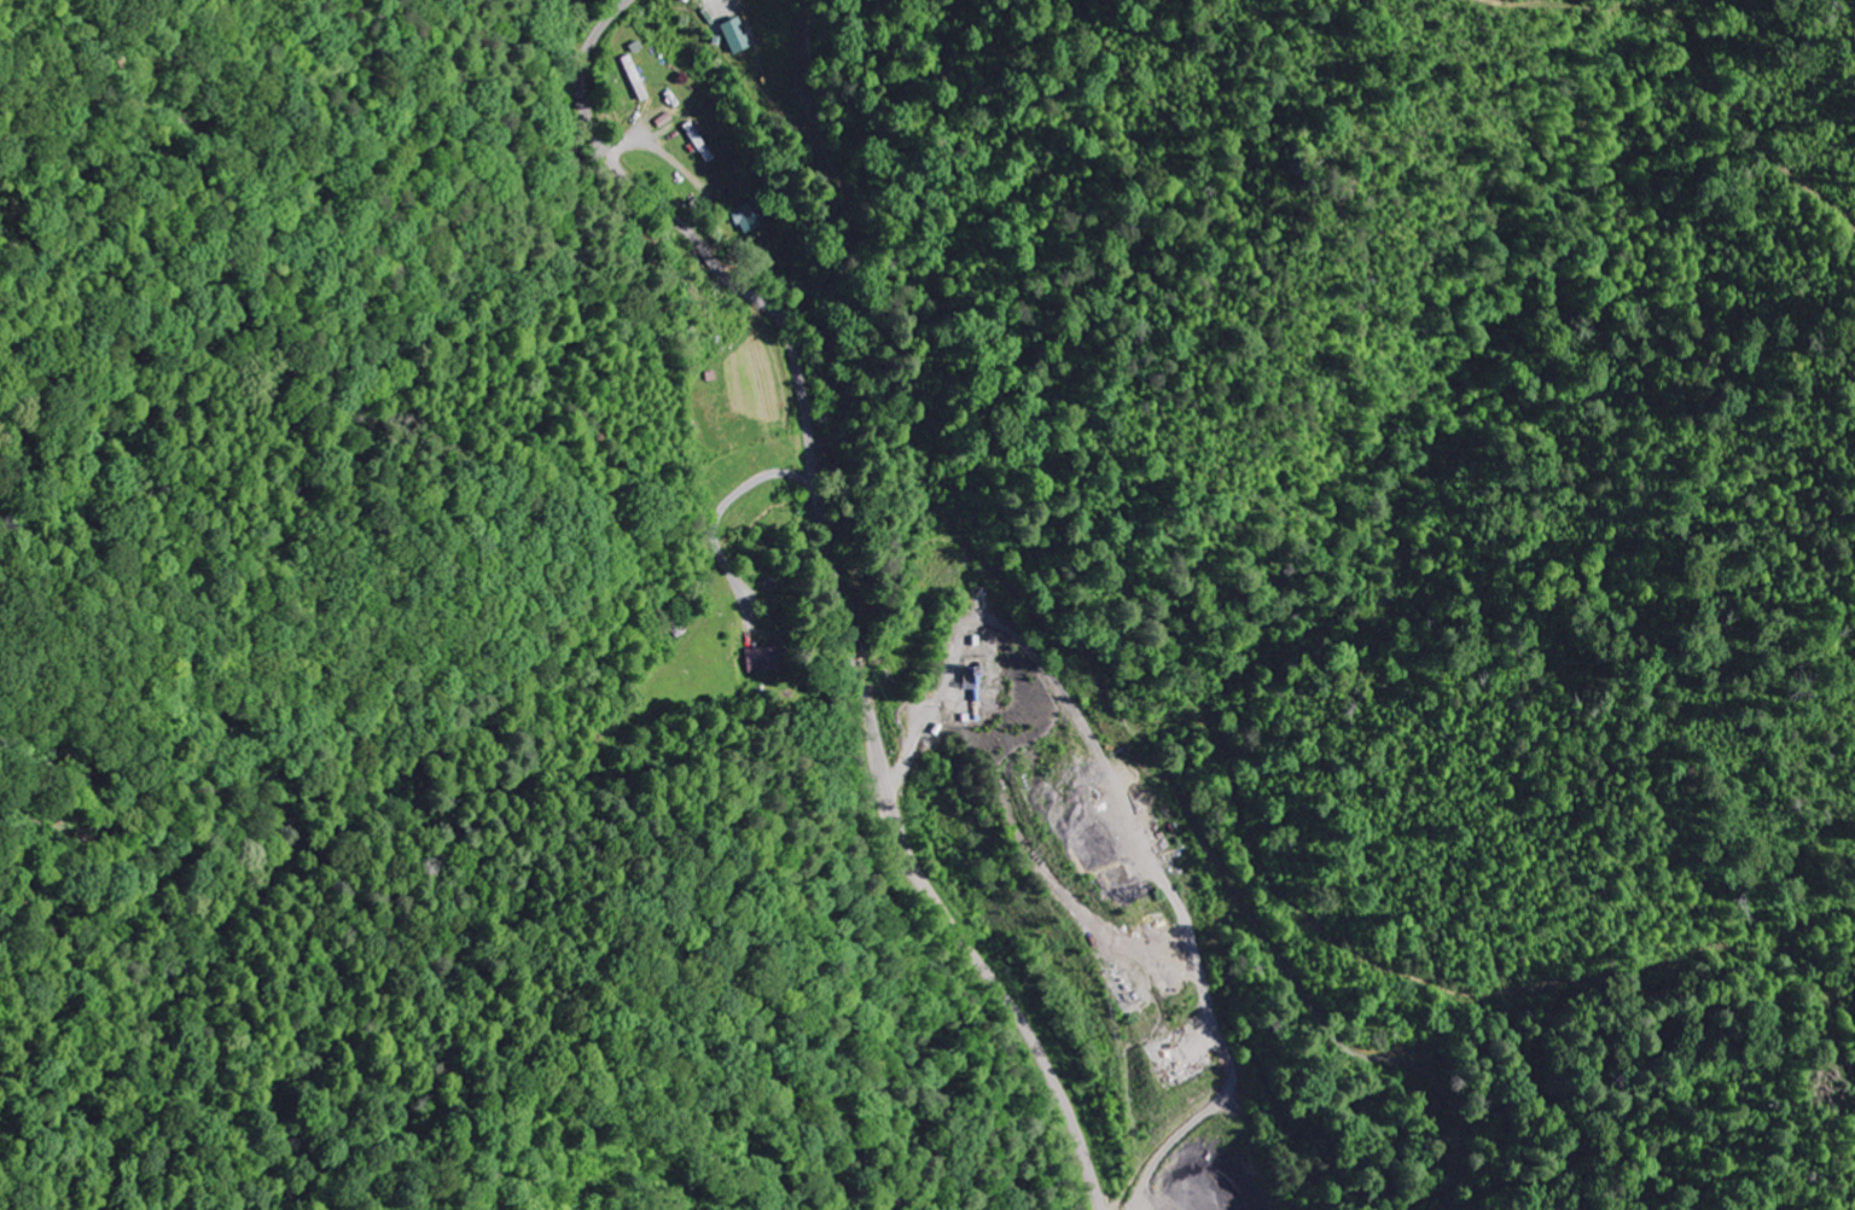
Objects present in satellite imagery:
building: (732, 36)
building: (633, 78)
building: (698, 142)
building: (749, 217)
road: (837, 583)
building: (762, 659)

